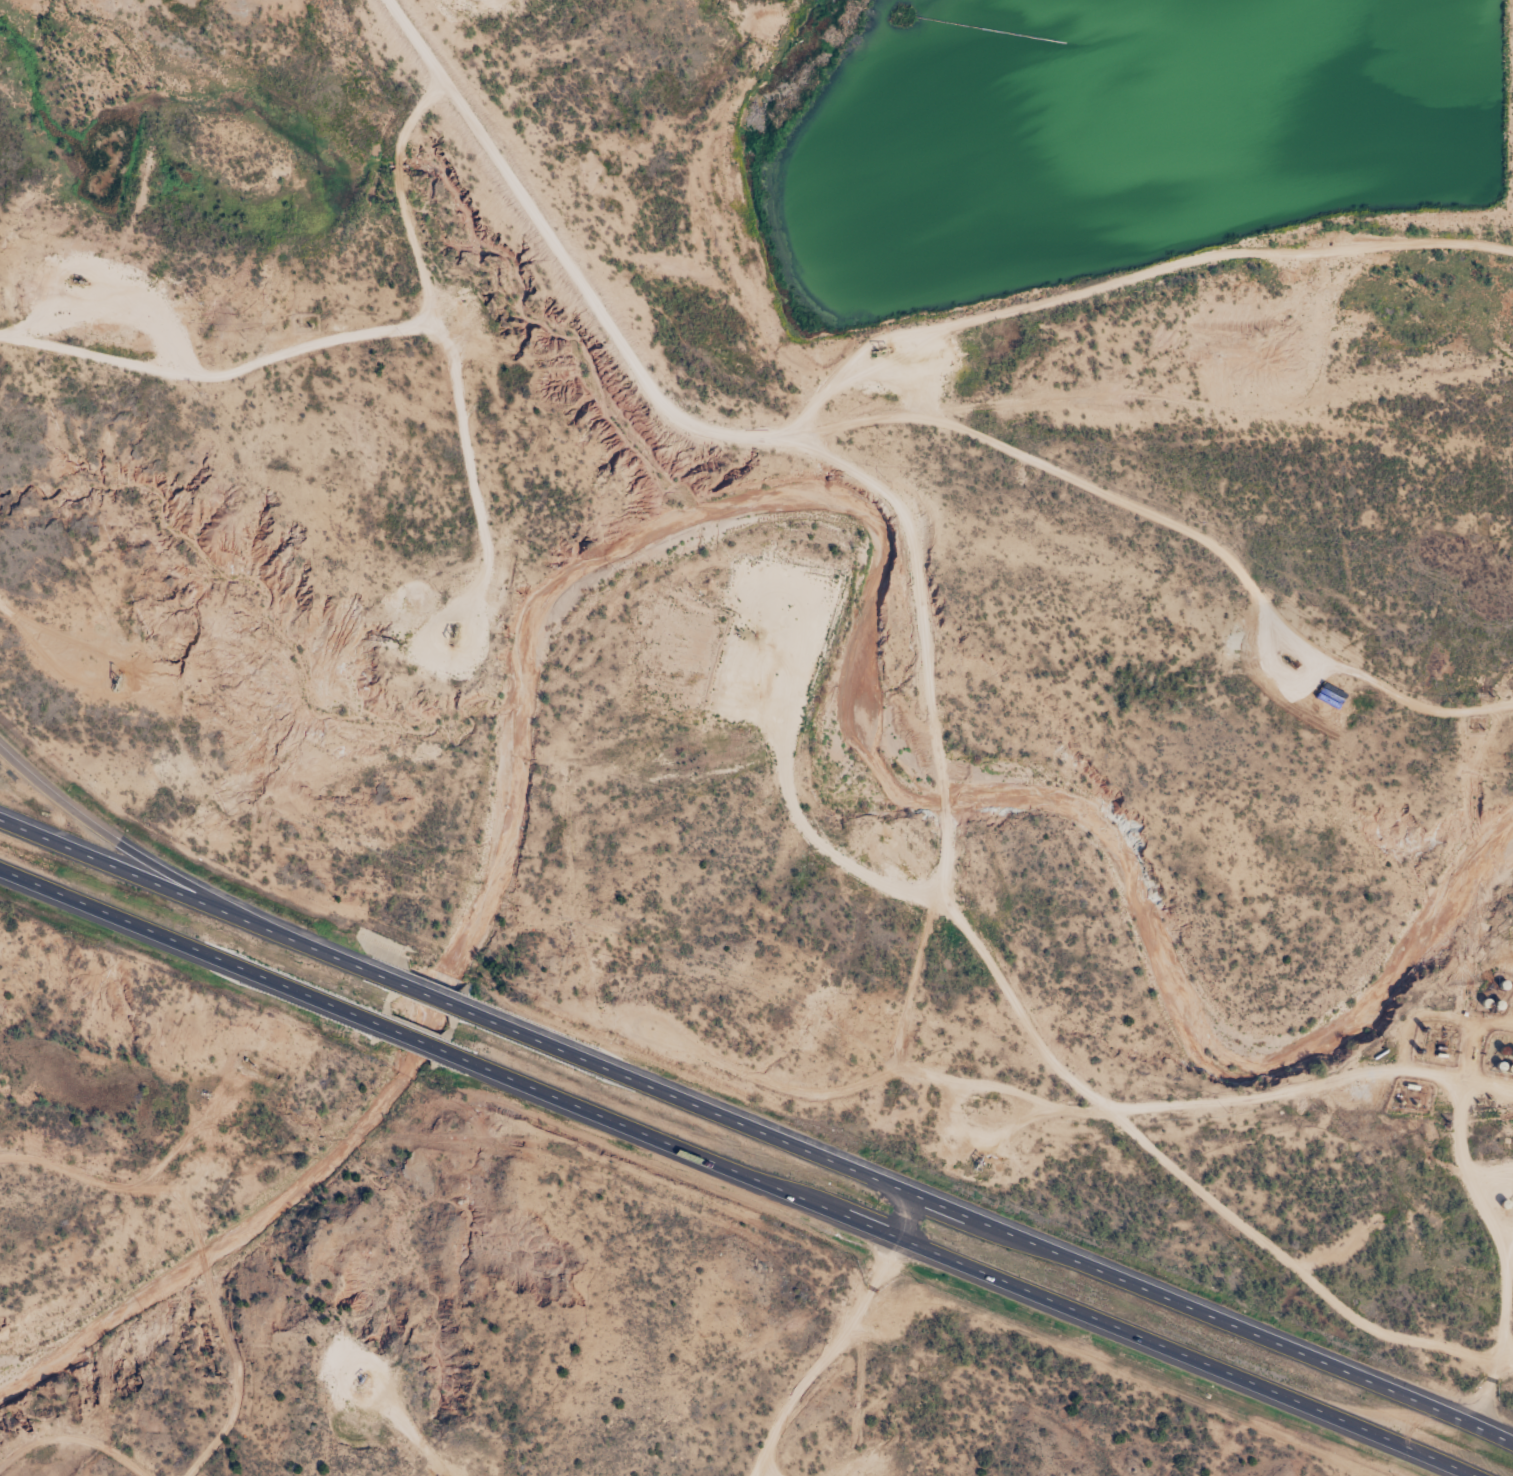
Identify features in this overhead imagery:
road: (1128, 278)
building: (305, 322)
road: (337, 339)
road: (684, 425)
road: (1176, 530)
road: (45, 637)
road: (945, 801)
road: (92, 829)
road: (190, 894)
road: (180, 943)
road: (427, 993)
road: (406, 1035)
road: (885, 1070)
road: (1312, 1084)
road: (1001, 1090)
road: (1187, 1180)
road: (114, 1185)
road: (995, 1224)
road: (203, 1260)
road: (962, 1265)
road: (1504, 1296)
road: (842, 1340)
road: (236, 1382)
road: (72, 1439)

